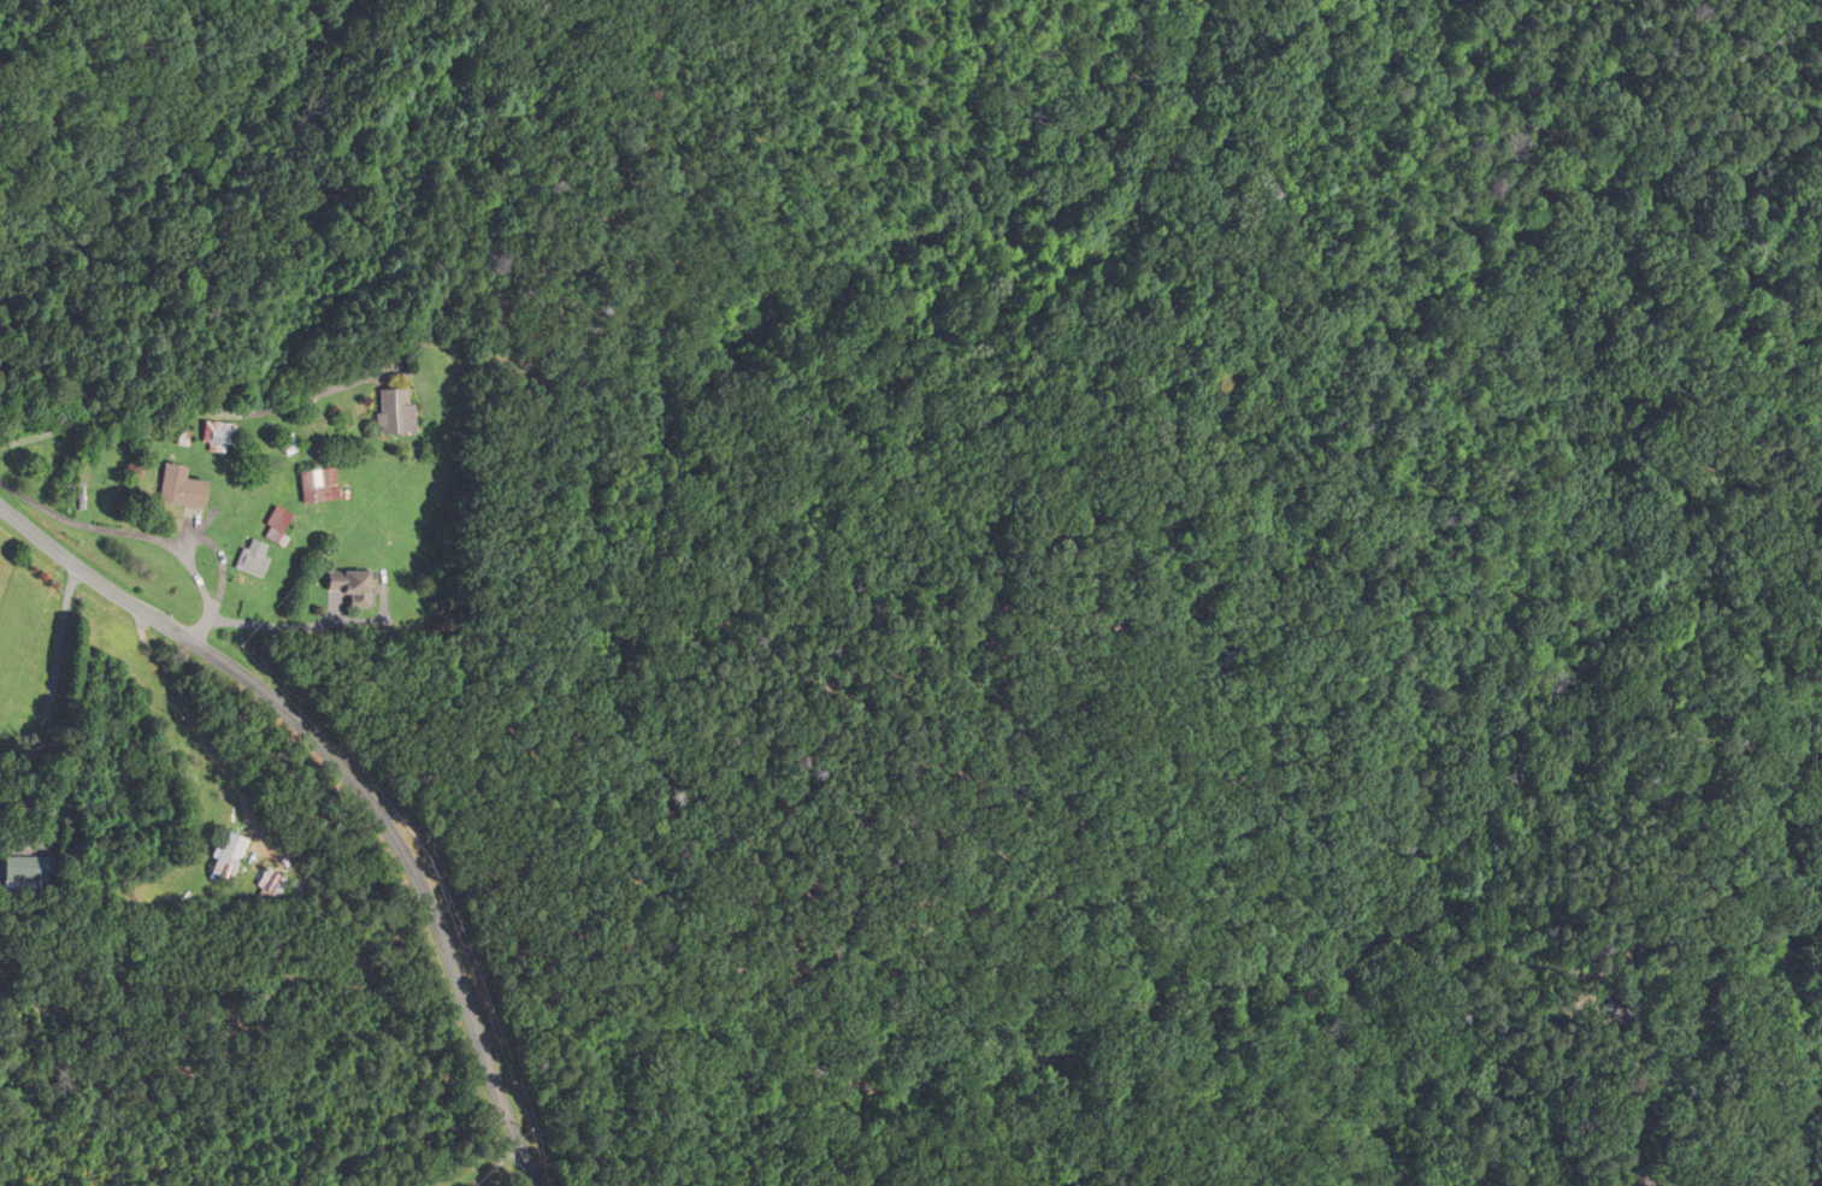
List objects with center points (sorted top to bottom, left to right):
road: (190, 412)
building: (394, 413)
building: (216, 438)
building: (317, 485)
building: (179, 488)
building: (275, 525)
road: (124, 541)
building: (250, 559)
building: (349, 586)
road: (278, 626)
road: (58, 703)
road: (353, 779)
building: (225, 857)
building: (24, 874)
building: (273, 883)
road: (1656, 890)
road: (402, 1144)

